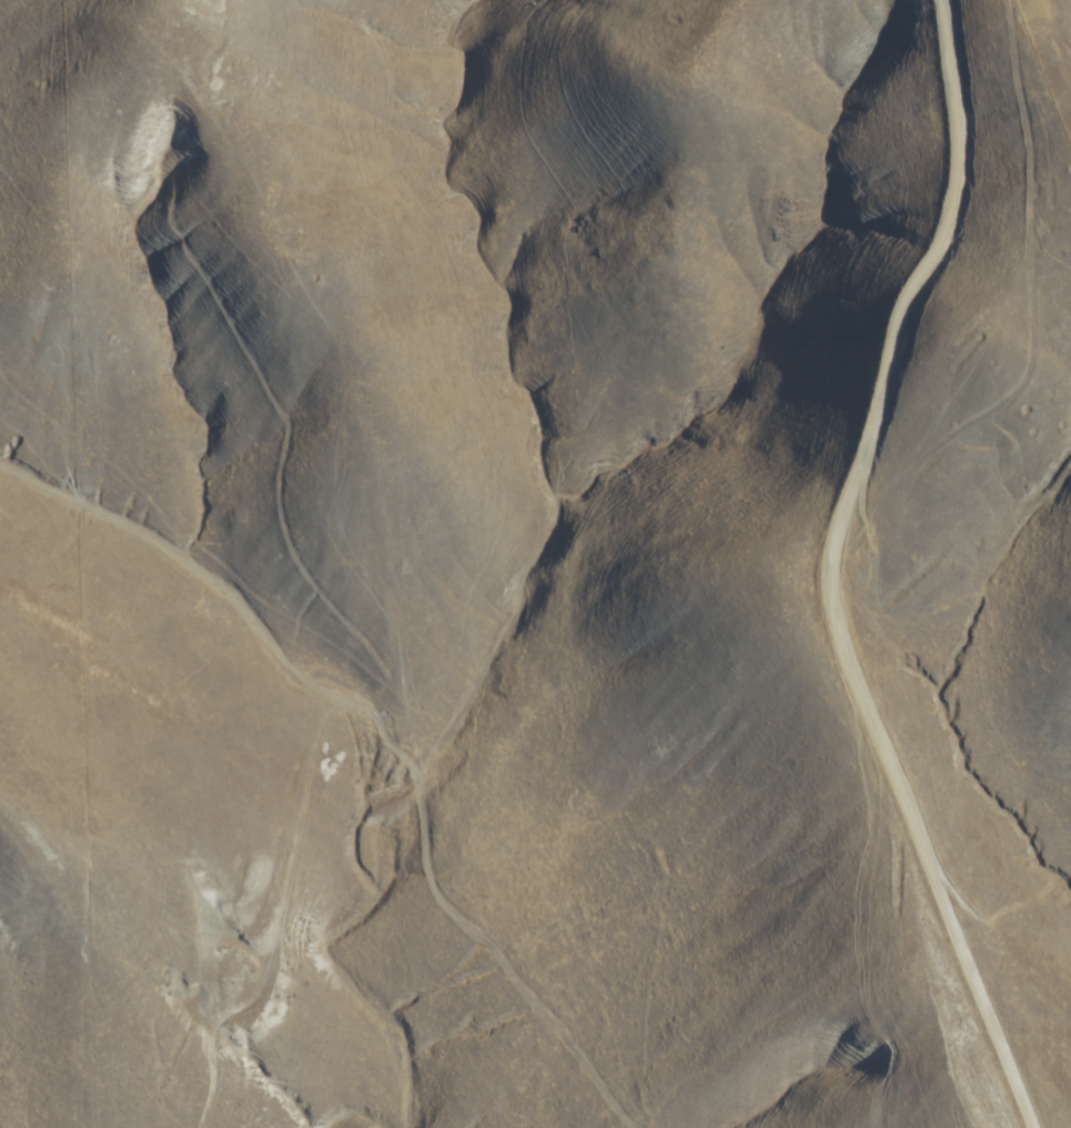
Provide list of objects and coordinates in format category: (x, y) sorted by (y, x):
road: (820, 567)
road: (991, 643)
road: (617, 1118)

